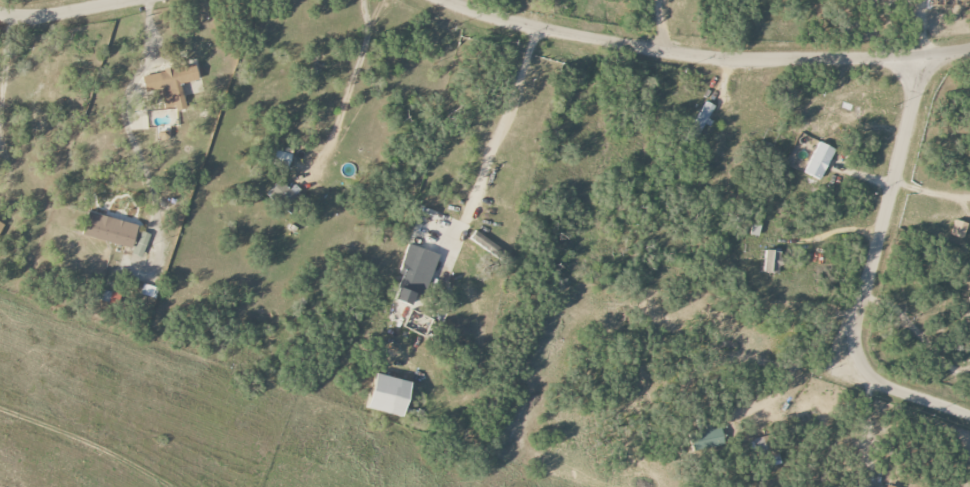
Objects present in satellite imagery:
road: (66, 10)
road: (660, 25)
road: (704, 56)
road: (5, 63)
building: (171, 85)
road: (350, 89)
road: (126, 108)
building: (703, 115)
road: (500, 122)
building: (281, 159)
building: (819, 160)
road: (5, 167)
building: (284, 196)
building: (1, 226)
building: (958, 229)
building: (109, 230)
building: (141, 244)
building: (486, 244)
building: (773, 262)
road: (868, 269)
building: (415, 273)
building: (969, 300)
building: (390, 395)
building: (707, 440)
building: (758, 445)
building: (775, 458)
building: (869, 485)
building: (888, 486)

